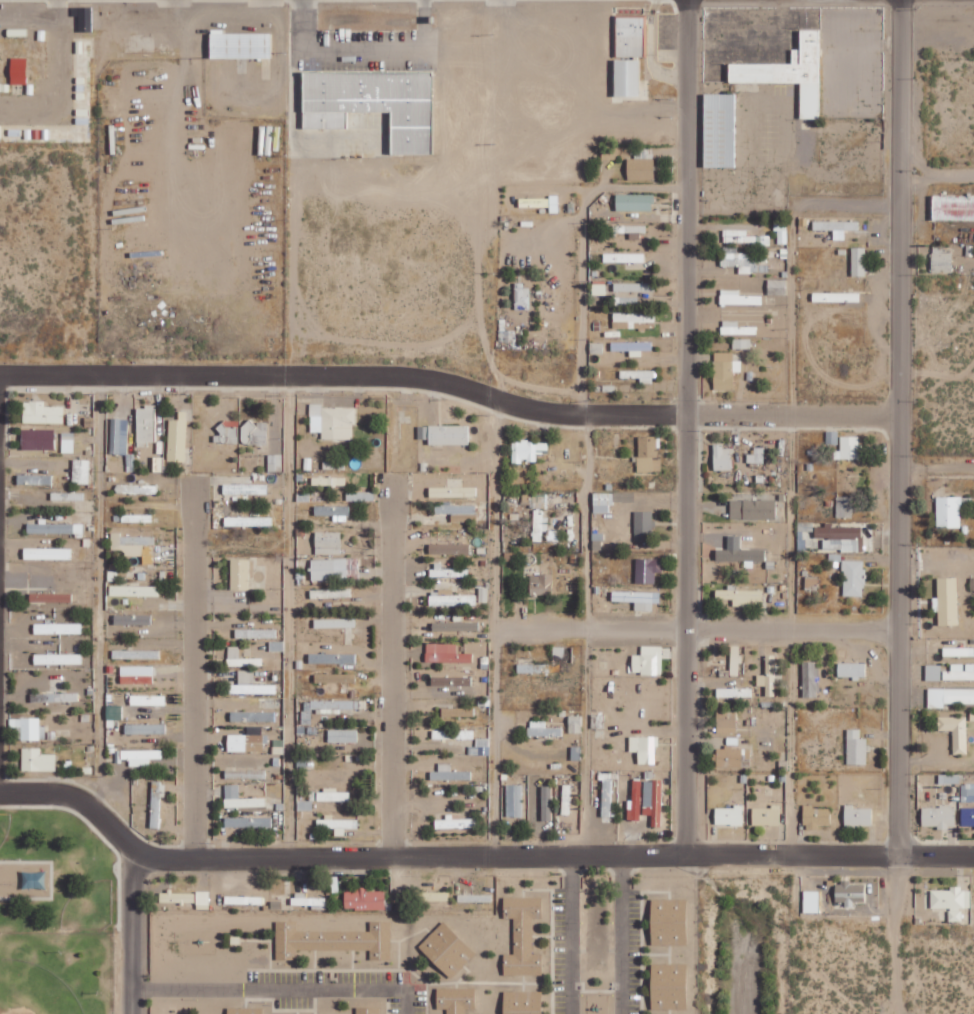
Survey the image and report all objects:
building: (238, 46)
road: (361, 50)
parking lot: (365, 52)
building: (627, 53)
building: (790, 72)
building: (355, 91)
building: (378, 91)
building: (322, 99)
building: (409, 113)
building: (720, 130)
building: (616, 152)
building: (641, 164)
building: (540, 202)
building: (634, 202)
road: (684, 207)
building: (953, 207)
building: (836, 225)
building: (624, 230)
building: (624, 257)
building: (941, 260)
building: (858, 261)
building: (776, 286)
building: (633, 287)
building: (599, 289)
building: (521, 296)
building: (738, 297)
building: (835, 297)
road: (582, 318)
building: (632, 319)
building: (734, 328)
building: (503, 330)
building: (741, 343)
building: (632, 347)
building: (724, 370)
building: (639, 375)
road: (146, 377)
road: (490, 397)
building: (42, 413)
road: (793, 415)
building: (332, 421)
building: (146, 424)
road: (900, 426)
building: (228, 431)
building: (254, 433)
building: (448, 434)
building: (119, 436)
building: (831, 437)
building: (177, 438)
building: (37, 439)
building: (67, 442)
building: (849, 448)
building: (528, 450)
building: (648, 454)
building: (756, 455)
building: (722, 457)
building: (274, 462)
building: (80, 471)
building: (34, 479)
building: (328, 481)
building: (245, 488)
building: (136, 489)
building: (452, 491)
building: (67, 496)
building: (609, 500)
building: (844, 506)
building: (455, 508)
building: (752, 509)
building: (333, 511)
building: (948, 512)
road: (498, 514)
building: (136, 518)
building: (248, 521)
building: (539, 525)
building: (643, 525)
building: (805, 526)
building: (54, 528)
road: (788, 530)
building: (840, 537)
building: (327, 542)
building: (130, 543)
building: (449, 548)
building: (738, 551)
building: (47, 553)
building: (335, 569)
building: (647, 569)
building: (447, 571)
building: (239, 574)
building: (853, 578)
building: (811, 581)
building: (972, 583)
building: (541, 584)
building: (134, 591)
building: (331, 593)
building: (742, 596)
building: (50, 597)
road: (96, 597)
building: (450, 598)
building: (637, 599)
building: (946, 601)
road: (287, 618)
building: (132, 619)
building: (334, 623)
building: (455, 626)
building: (57, 628)
road: (699, 629)
building: (256, 633)
road: (687, 635)
road: (585, 638)
building: (276, 645)
building: (958, 651)
building: (446, 653)
building: (136, 654)
building: (241, 657)
building: (332, 658)
building: (57, 659)
building: (735, 660)
building: (648, 661)
road: (194, 670)
building: (851, 670)
building: (933, 672)
building: (959, 672)
building: (136, 674)
road: (392, 675)
building: (770, 675)
building: (335, 678)
building: (809, 679)
building: (450, 681)
building: (250, 684)
building: (733, 692)
building: (54, 697)
building: (949, 697)
building: (147, 700)
building: (325, 707)
building: (457, 712)
building: (113, 714)
building: (252, 716)
building: (726, 720)
building: (597, 721)
building: (574, 724)
building: (28, 729)
building: (145, 729)
building: (543, 729)
building: (955, 732)
building: (453, 734)
building: (342, 735)
building: (246, 743)
road: (498, 744)
building: (480, 747)
building: (856, 748)
building: (644, 749)
building: (733, 756)
building: (138, 757)
building: (37, 760)
building: (449, 773)
building: (245, 774)
building: (949, 779)
building: (967, 792)
building: (332, 795)
building: (240, 798)
building: (606, 798)
building: (565, 799)
building: (514, 801)
building: (646, 801)
building: (156, 802)
building: (546, 803)
building: (729, 815)
building: (766, 815)
building: (816, 816)
building: (857, 816)
building: (938, 817)
building: (967, 817)
building: (248, 822)
building: (337, 824)
road: (133, 855)
road: (164, 857)
road: (584, 857)
building: (849, 892)
building: (177, 896)
building: (432, 896)
building: (474, 897)
building: (364, 898)
building: (245, 899)
building: (307, 899)
building: (202, 900)
building: (811, 900)
building: (951, 900)
building: (669, 921)
building: (522, 936)
building: (333, 939)
building: (447, 949)
building: (669, 986)
building: (456, 999)
building: (523, 1002)
building: (244, 1010)
building: (368, 1010)

